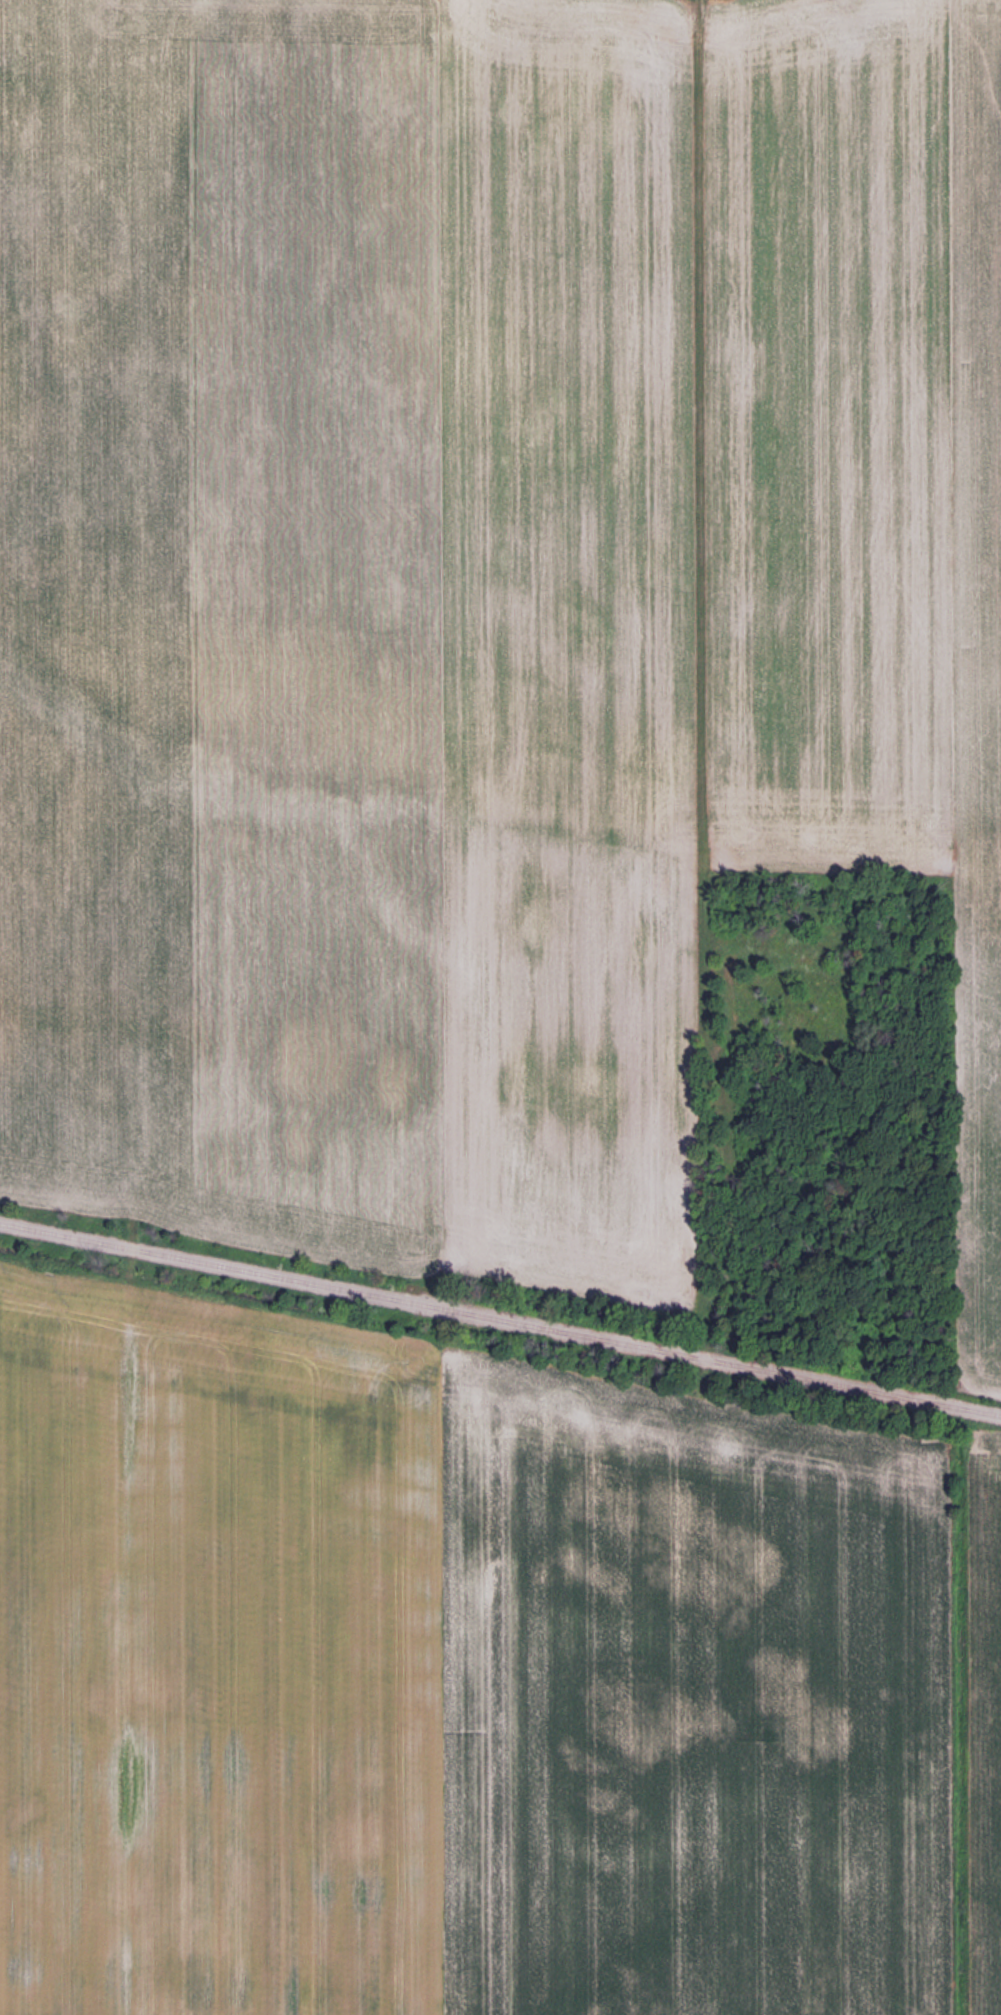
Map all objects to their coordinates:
railway: (500, 1320)

